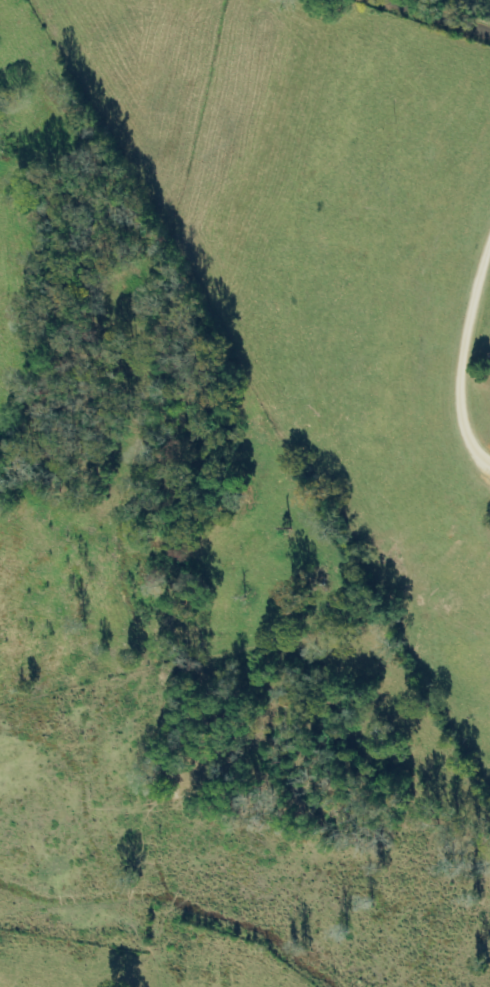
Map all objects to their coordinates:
road: (411, 24)

